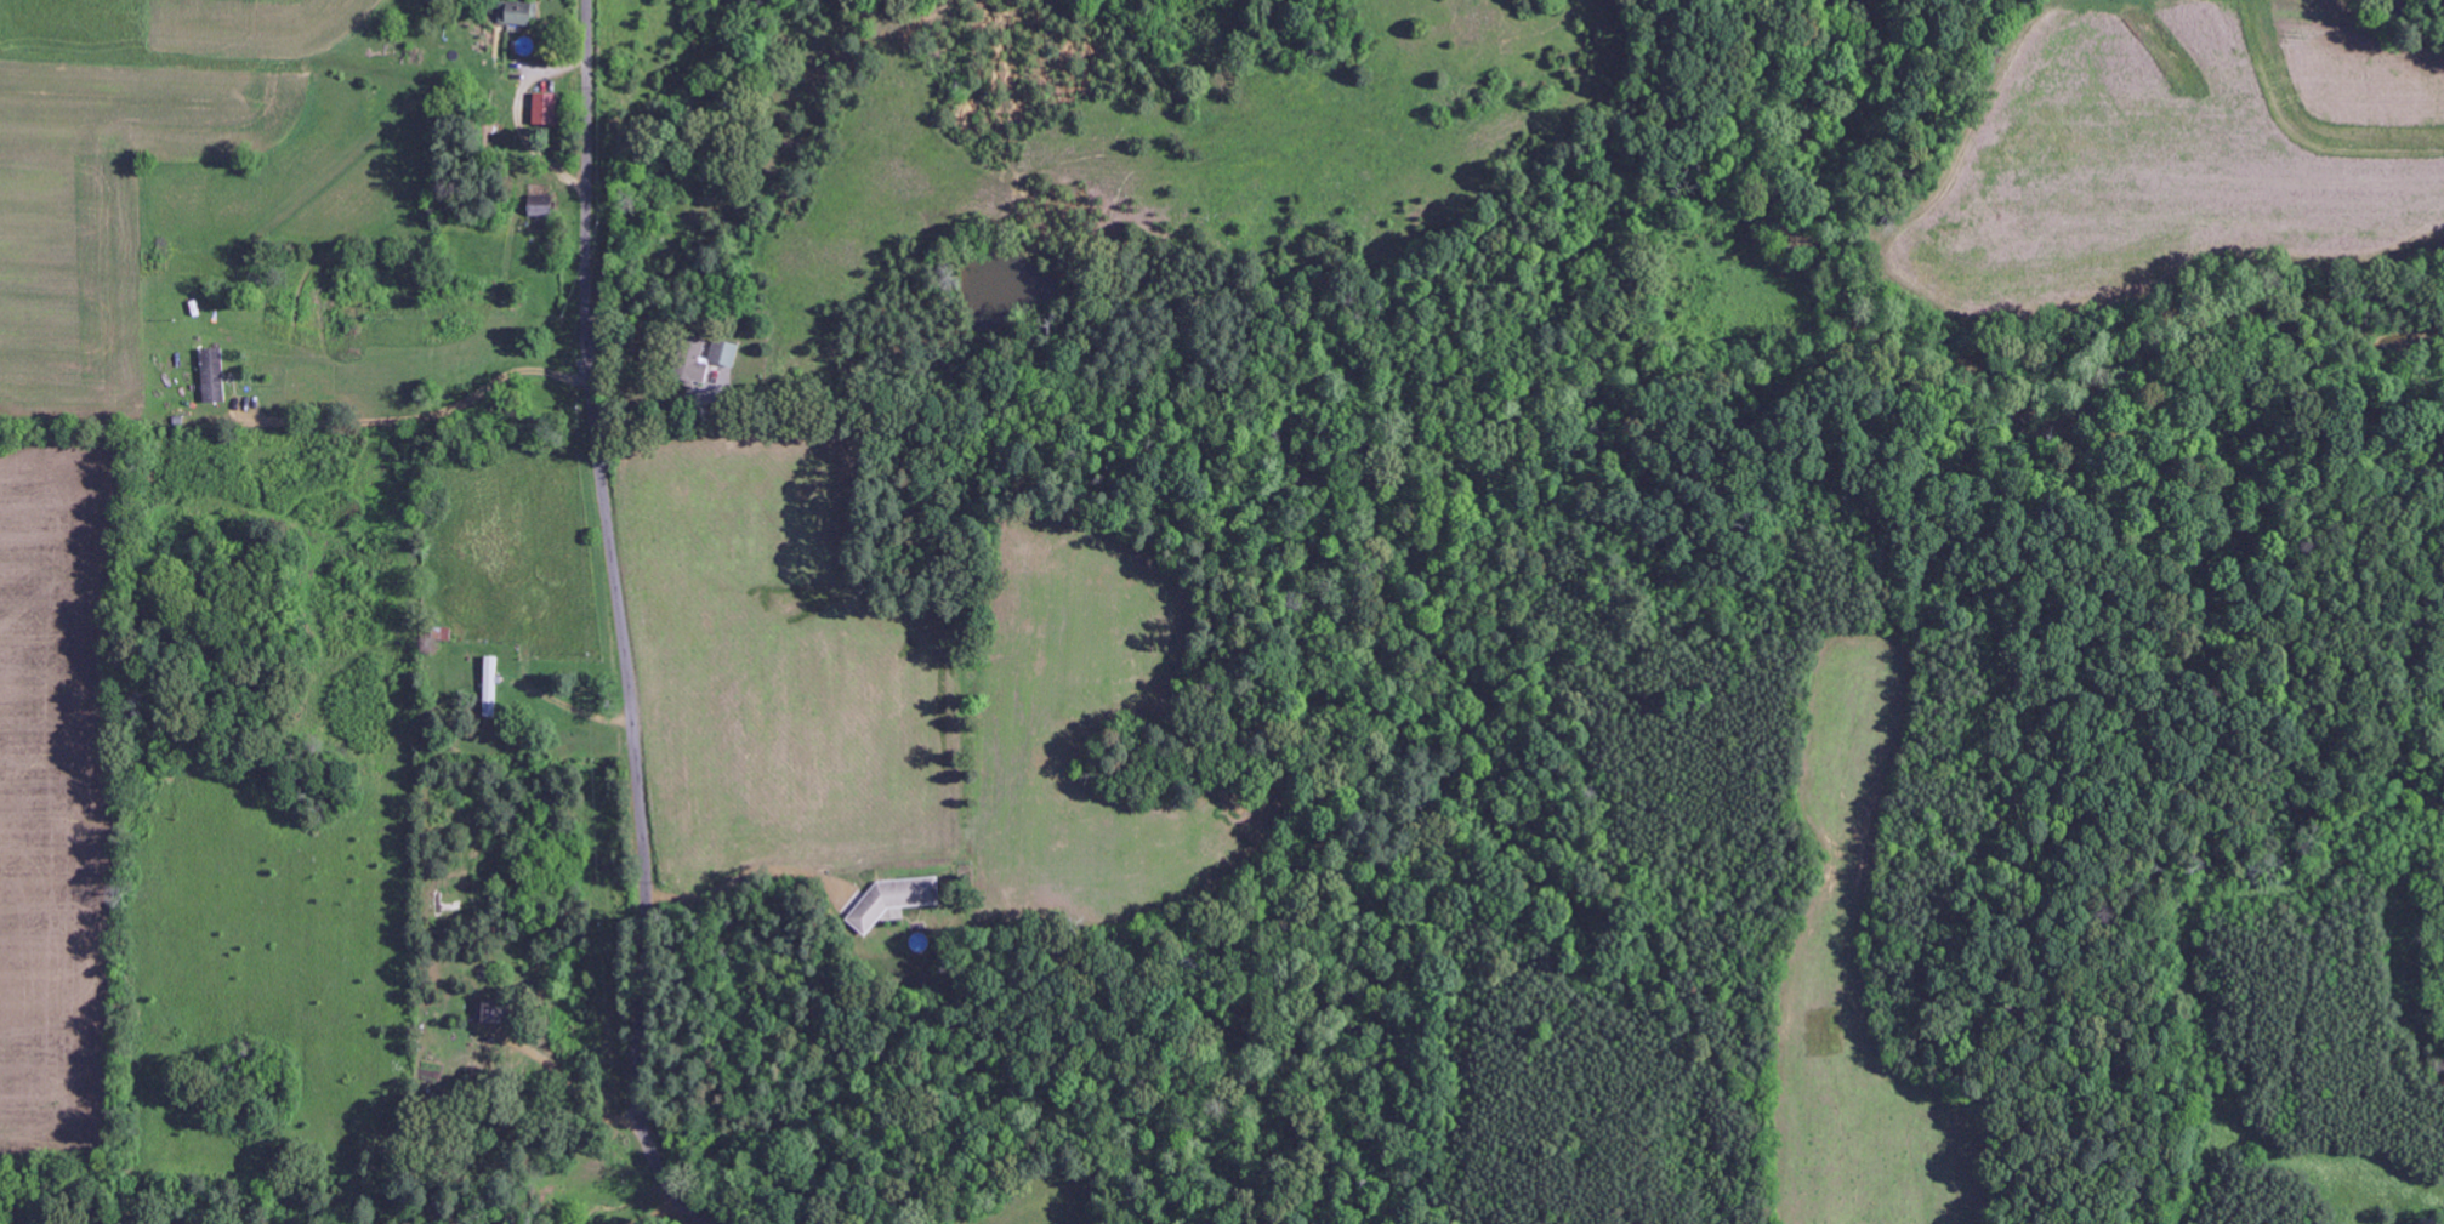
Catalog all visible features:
building: (518, 13)
road: (291, 39)
building: (547, 110)
building: (542, 206)
building: (711, 358)
building: (214, 377)
road: (620, 621)
building: (491, 688)
building: (896, 898)
building: (491, 1012)

